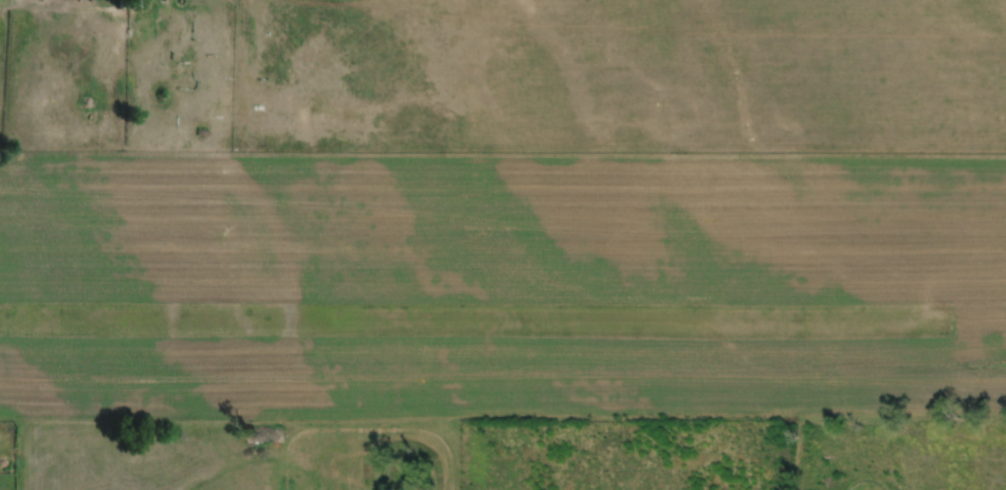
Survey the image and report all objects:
building: (129, 3)

